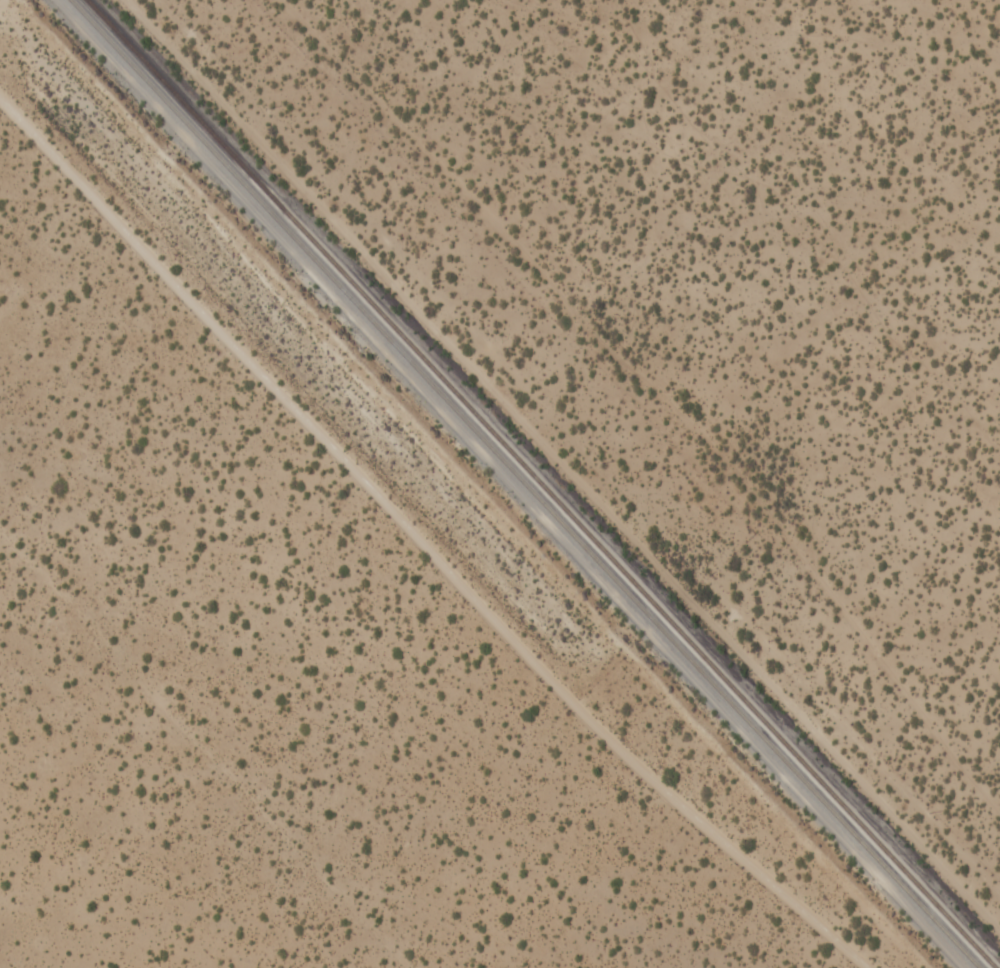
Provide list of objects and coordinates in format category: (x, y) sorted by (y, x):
road: (658, 396)
road: (557, 475)
railway: (539, 483)
railway: (523, 484)
road: (418, 547)

